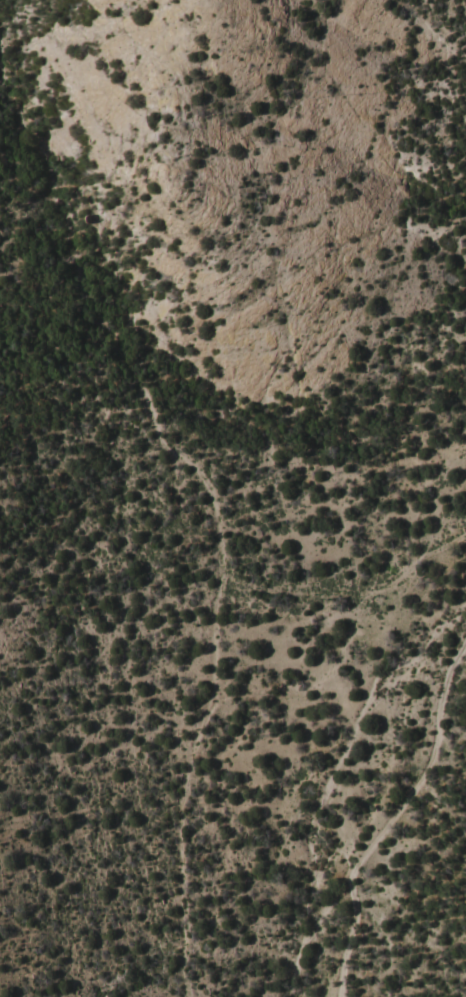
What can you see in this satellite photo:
road: (161, 383)
road: (407, 560)
road: (301, 663)
road: (391, 809)

